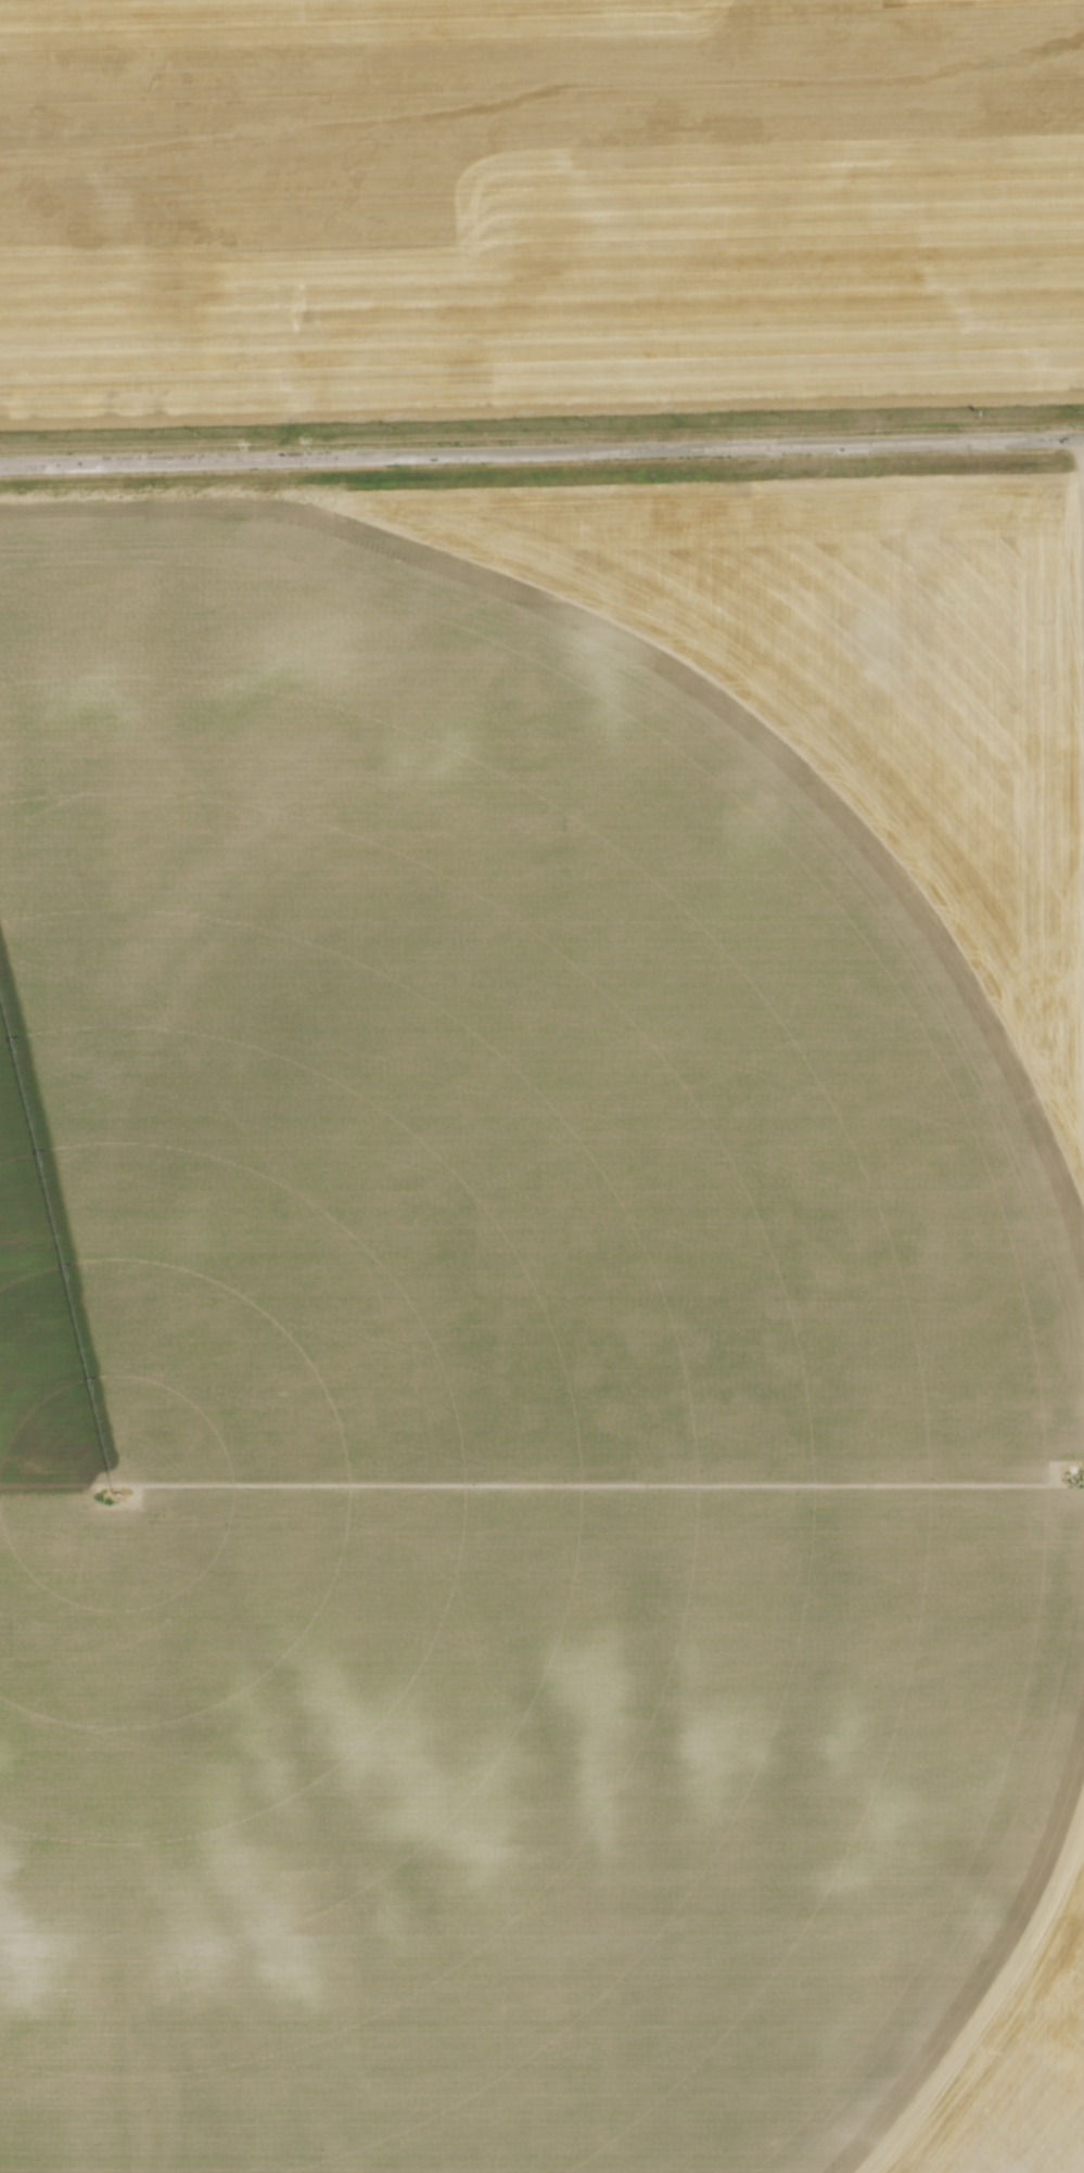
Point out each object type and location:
road: (541, 440)

